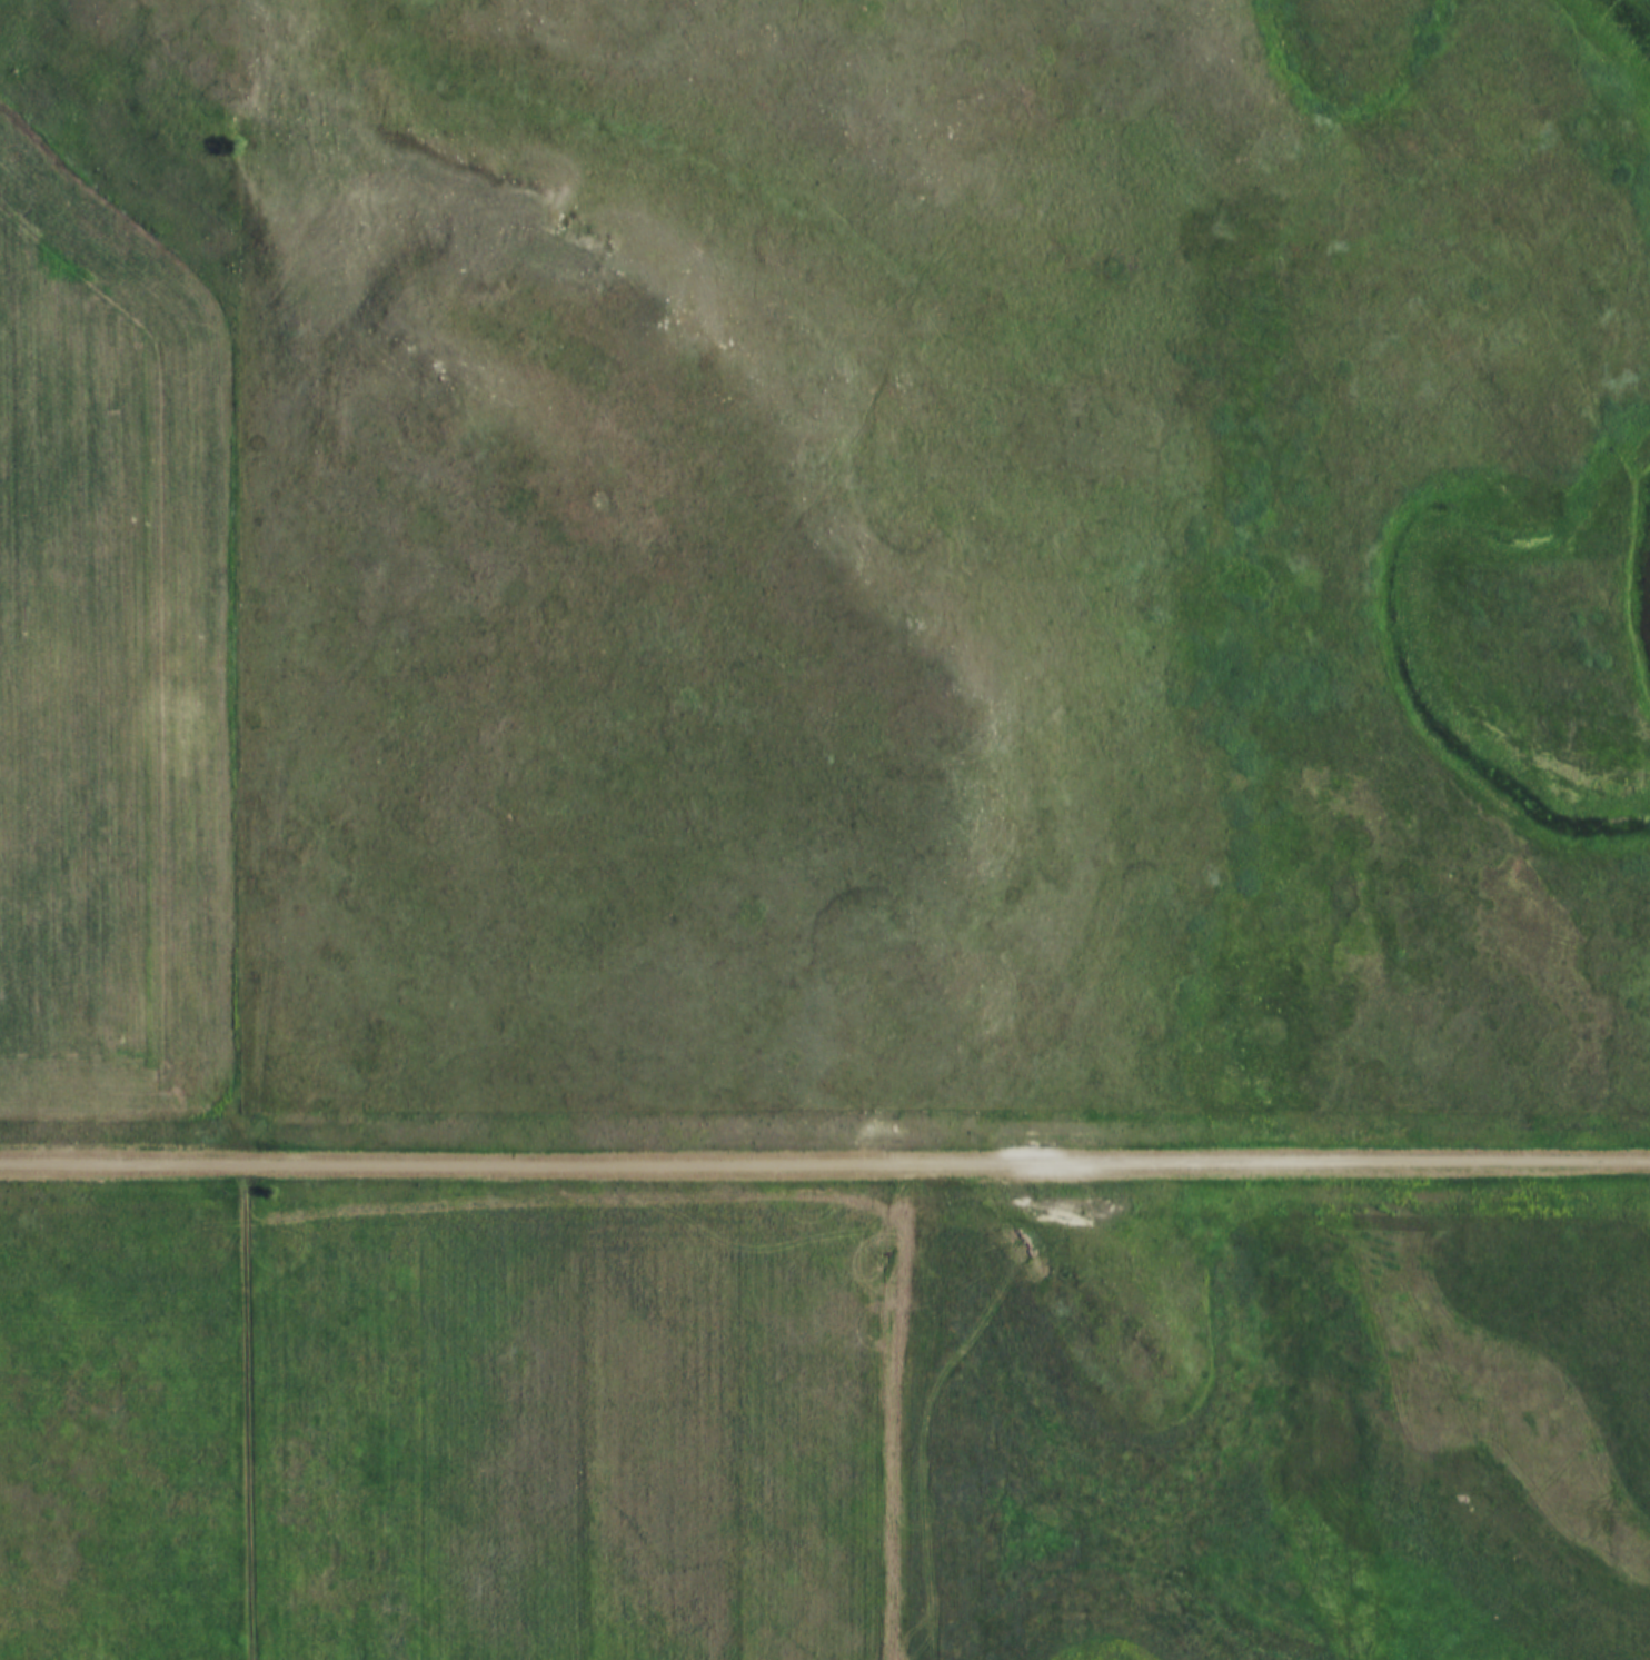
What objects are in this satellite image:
road: (824, 1162)
road: (252, 1410)

